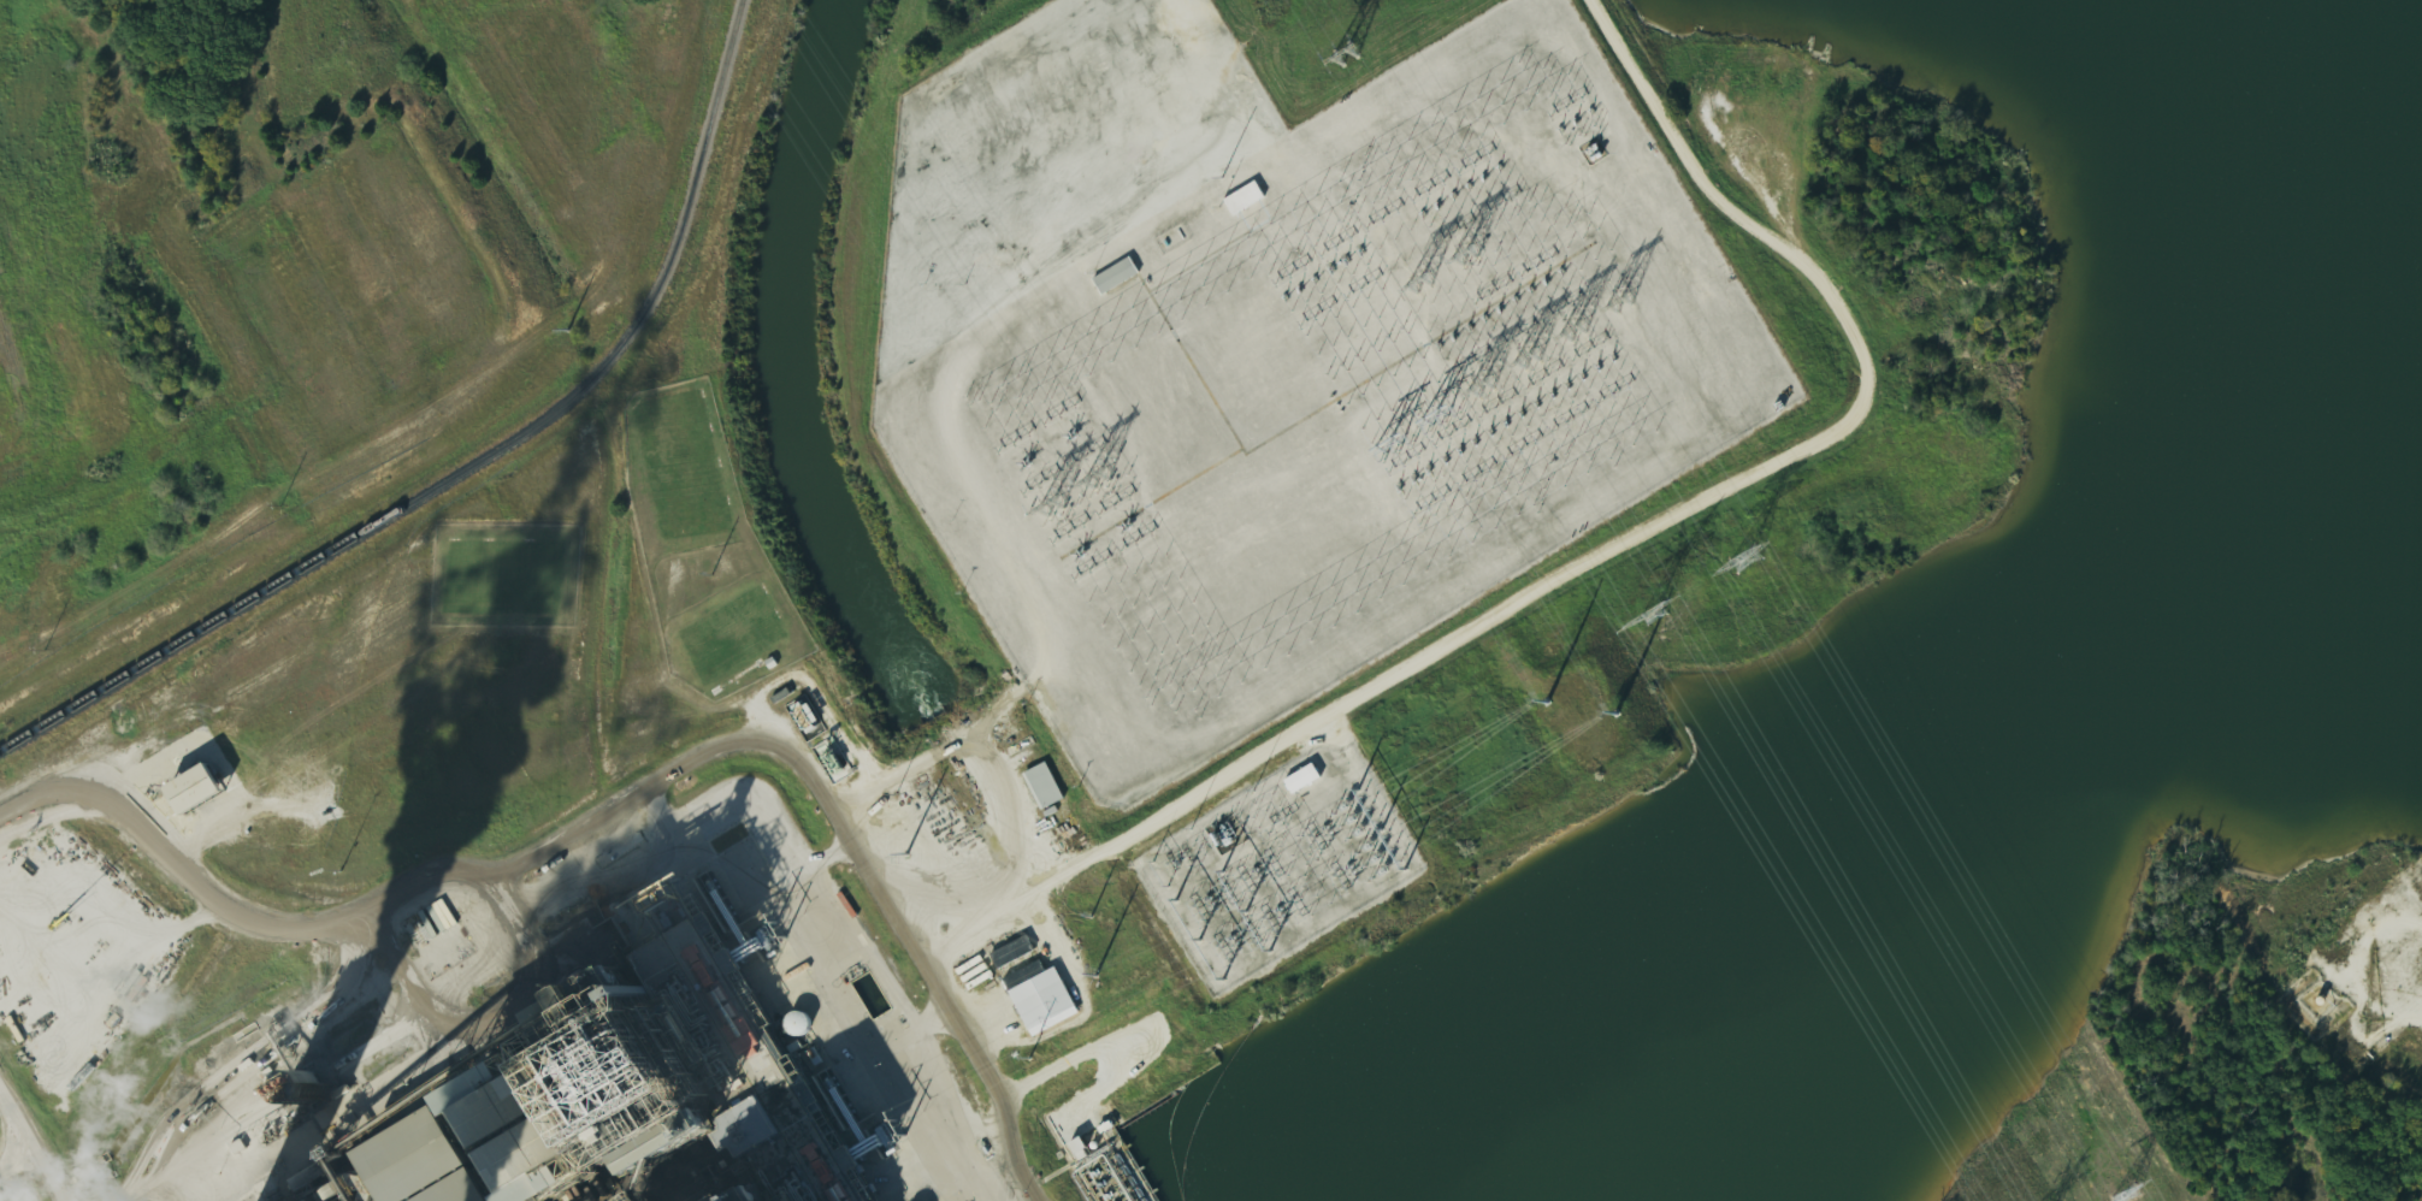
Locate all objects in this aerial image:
power tower: (1346, 60)
power tower: (1464, 250)
building: (1121, 276)
power tower: (1420, 282)
power tower: (1619, 301)
power tower: (1575, 330)
power substation: (1277, 353)
power tower: (1529, 359)
power tower: (1483, 385)
power tower: (1436, 413)
power tower: (1387, 437)
railway: (475, 463)
power tower: (1097, 478)
power tower: (1052, 504)
power plant: (894, 548)
power tower: (1732, 552)
power tower: (1641, 608)
power tower: (1544, 702)
power tower: (1614, 714)
building: (1306, 779)
building: (1046, 787)
building: (203, 788)
power tower: (904, 853)
power substation: (1276, 865)
power tower: (779, 928)
building: (1016, 952)
power tower: (1094, 975)
power tower: (1028, 1057)
building: (587, 1090)
power tower: (899, 1126)
building: (794, 1165)
power tower: (2117, 1200)

